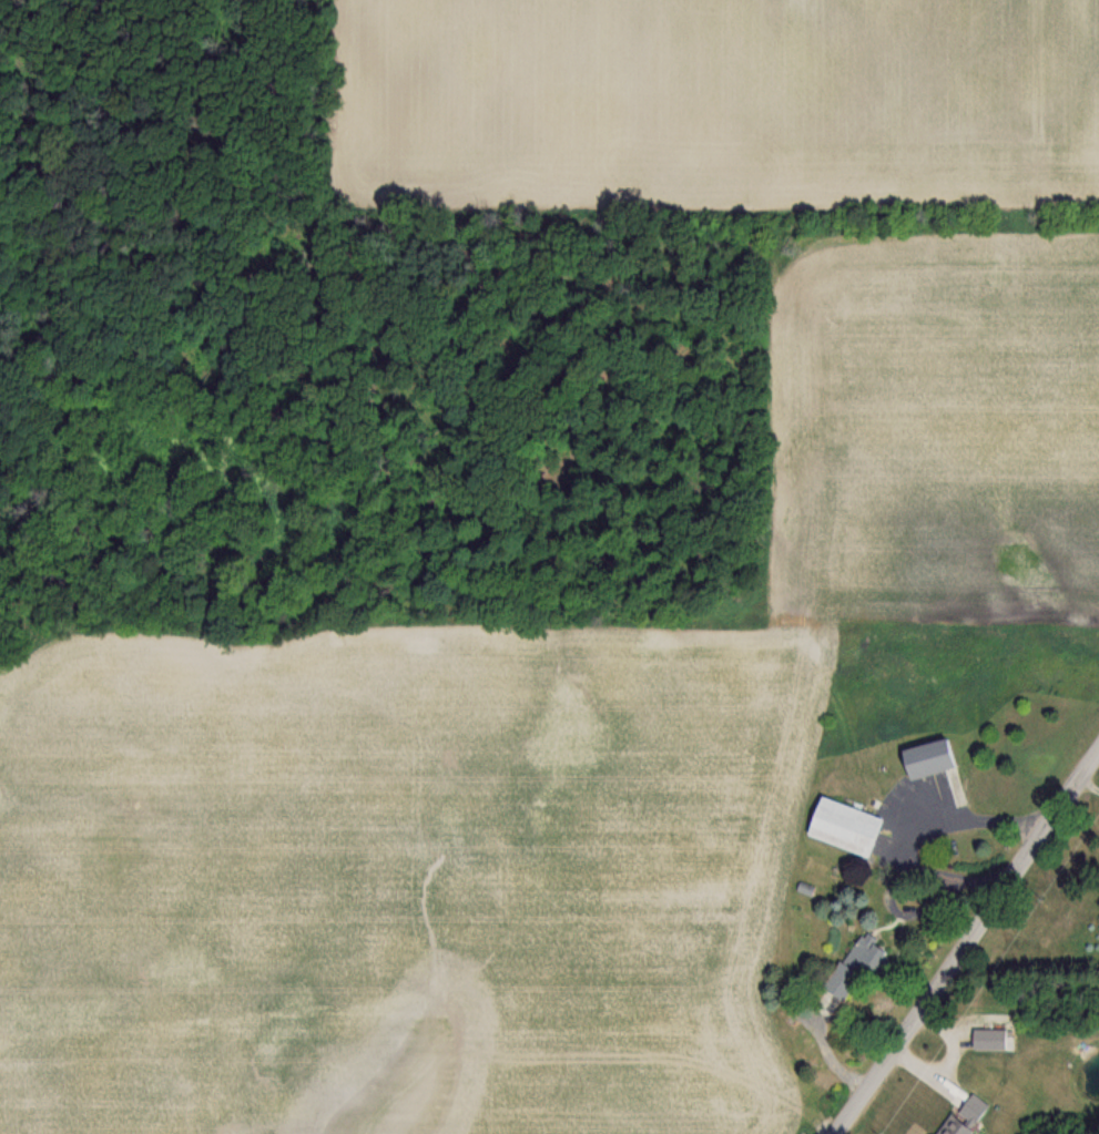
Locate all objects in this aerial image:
building: (924, 757)
building: (841, 826)
road: (910, 827)
road: (969, 946)
building: (865, 952)
building: (837, 981)
building: (988, 1039)
building: (963, 1115)

